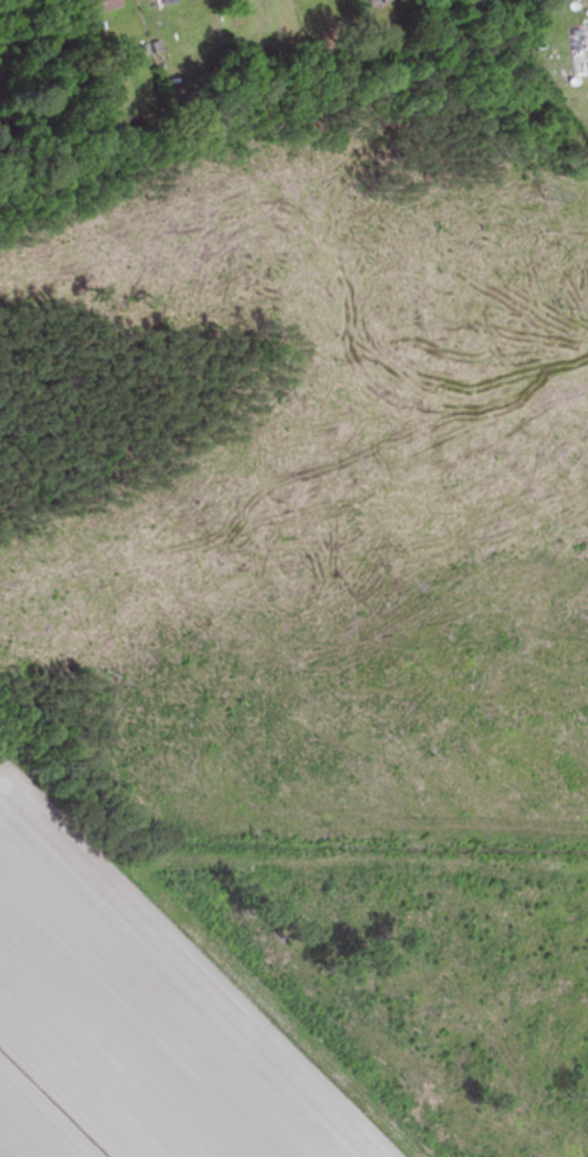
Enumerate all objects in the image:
building: (163, 1)
building: (93, 6)

